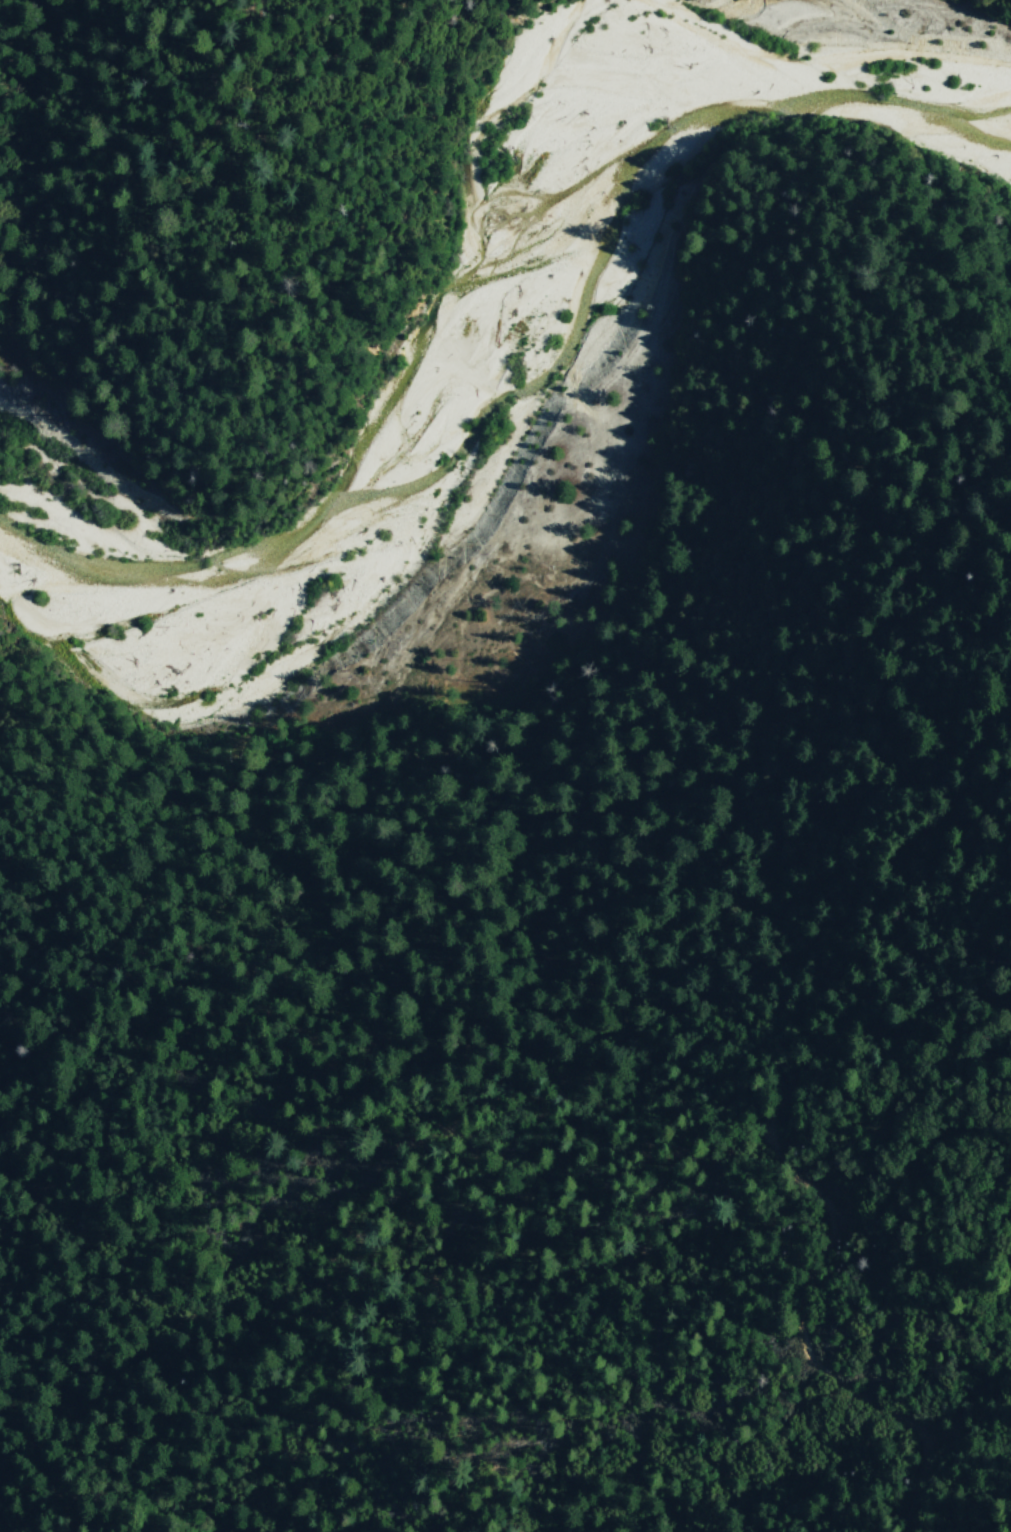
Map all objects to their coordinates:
river: (445, 283)
road: (910, 926)
road: (349, 1183)
road: (848, 1350)

